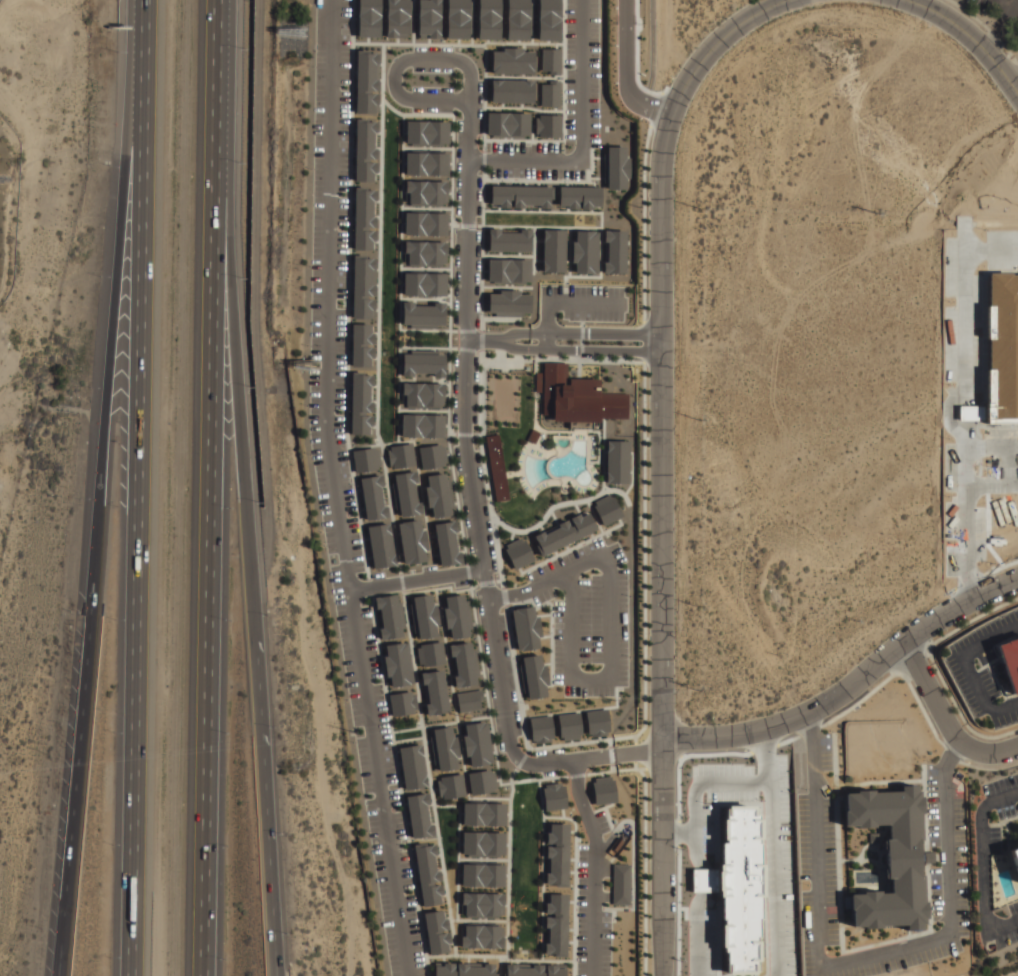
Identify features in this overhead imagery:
road: (1013, 4)
parking lot: (1001, 5)
building: (369, 18)
building: (398, 18)
building: (429, 18)
building: (459, 19)
building: (489, 19)
building: (517, 19)
building: (549, 19)
road: (1000, 28)
road: (971, 37)
road: (714, 45)
road: (651, 51)
road: (140, 52)
building: (514, 59)
building: (551, 59)
road: (221, 61)
road: (398, 64)
parking lot: (581, 70)
road: (581, 71)
road: (623, 71)
building: (368, 81)
road: (1016, 88)
building: (510, 91)
building: (552, 93)
building: (508, 122)
building: (551, 125)
road: (470, 127)
building: (426, 129)
building: (367, 149)
road: (580, 152)
parking lot: (532, 161)
road: (532, 161)
building: (426, 162)
building: (617, 167)
building: (425, 191)
building: (520, 195)
building: (578, 195)
building: (364, 218)
building: (426, 222)
building: (509, 239)
road: (468, 240)
building: (583, 249)
building: (553, 250)
building: (424, 251)
building: (614, 251)
building: (510, 269)
building: (425, 283)
building: (364, 287)
building: (510, 301)
parking lot: (584, 302)
road: (584, 303)
road: (232, 313)
building: (422, 313)
road: (546, 325)
road: (485, 339)
road: (506, 340)
building: (362, 344)
building: (997, 353)
building: (424, 364)
building: (423, 394)
building: (577, 397)
park: (504, 399)
building: (362, 403)
building: (423, 425)
building: (432, 454)
building: (401, 456)
building: (368, 459)
road: (592, 460)
building: (617, 461)
building: (496, 467)
road: (546, 468)
road: (662, 472)
parking lot: (349, 483)
road: (333, 490)
building: (439, 493)
building: (406, 494)
building: (373, 496)
building: (607, 508)
building: (565, 533)
road: (101, 540)
road: (134, 540)
building: (412, 540)
building: (447, 542)
building: (382, 545)
road: (210, 549)
building: (518, 552)
road: (416, 579)
road: (510, 596)
road: (488, 598)
building: (424, 614)
building: (389, 616)
building: (459, 616)
parking lot: (587, 617)
building: (526, 627)
road: (607, 647)
building: (431, 653)
building: (1010, 662)
building: (398, 663)
building: (464, 663)
road: (970, 664)
parking lot: (983, 669)
building: (532, 675)
road: (850, 684)
building: (434, 691)
building: (469, 700)
building: (403, 703)
road: (944, 718)
building: (596, 722)
building: (570, 724)
road: (811, 724)
building: (541, 728)
road: (263, 737)
building: (477, 743)
road: (764, 743)
building: (444, 746)
road: (638, 750)
road: (948, 761)
building: (412, 766)
building: (481, 781)
road: (697, 782)
building: (450, 786)
building: (604, 790)
building: (554, 795)
parking lot: (713, 798)
parking lot: (1001, 808)
road: (982, 811)
building: (483, 813)
building: (419, 815)
road: (676, 830)
parking lot: (818, 838)
building: (483, 841)
building: (557, 853)
building: (1015, 854)
parking lot: (948, 855)
building: (891, 858)
road: (596, 865)
road: (770, 866)
parking lot: (777, 867)
building: (428, 872)
building: (482, 873)
road: (700, 879)
building: (620, 883)
building: (739, 890)
road: (984, 896)
parking lot: (592, 898)
building: (482, 903)
road: (660, 903)
building: (555, 922)
road: (1010, 924)
parking lot: (1009, 928)
building: (437, 930)
building: (483, 935)
road: (695, 942)
parking lot: (701, 942)
road: (845, 962)
building: (465, 969)
building: (536, 969)
road: (277, 974)
road: (277, 974)

